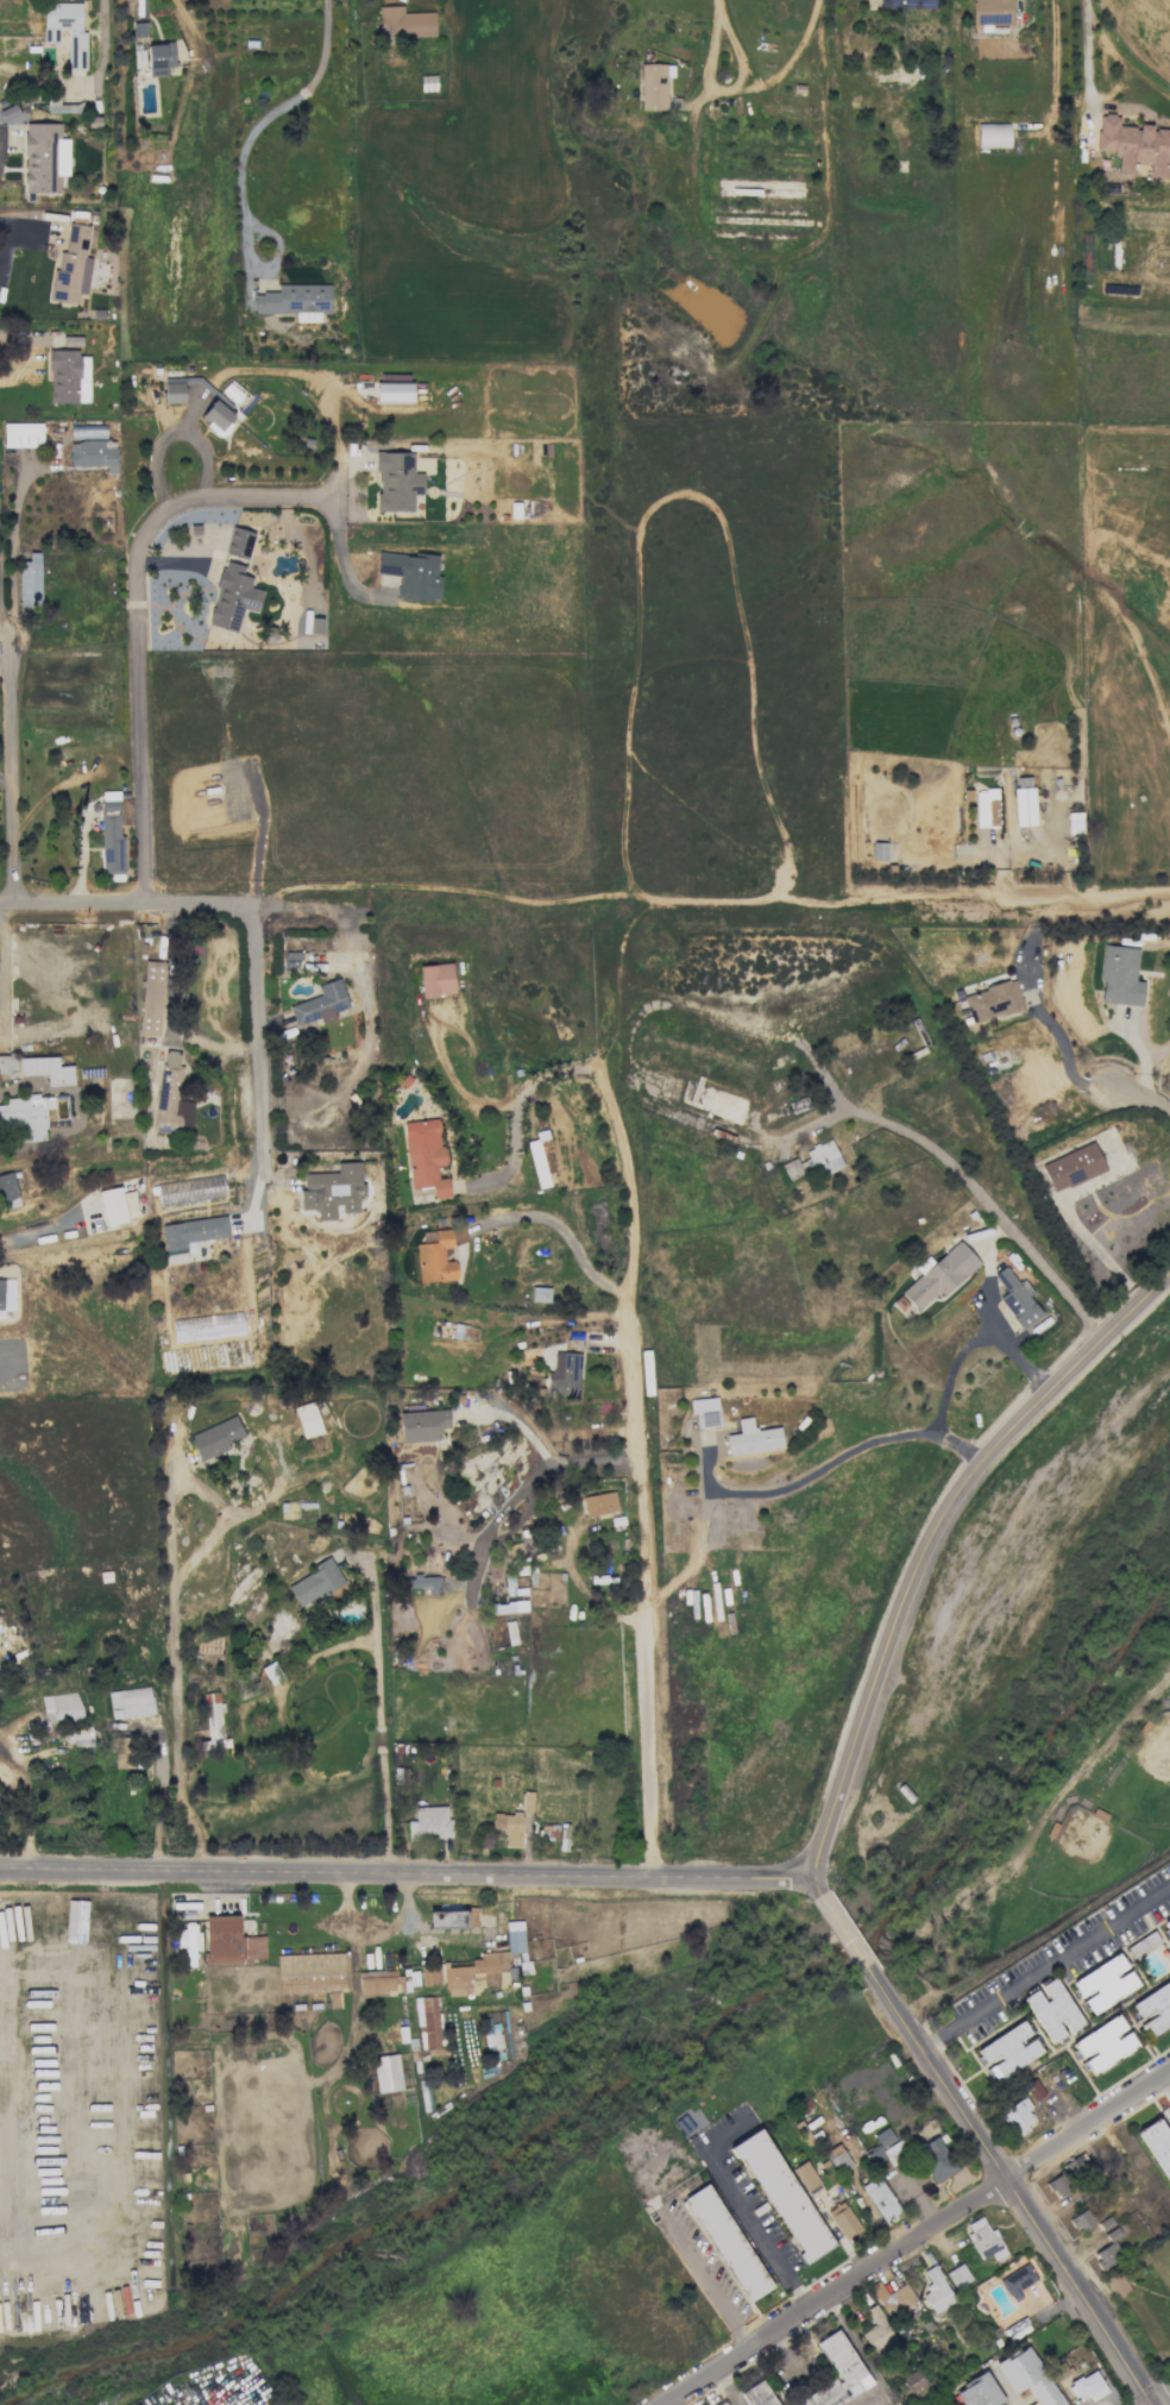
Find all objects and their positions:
building: (907, 4)
building: (990, 12)
building: (404, 23)
building: (75, 36)
road: (103, 46)
building: (159, 58)
road: (1082, 61)
building: (653, 88)
road: (262, 117)
building: (992, 134)
building: (1134, 145)
building: (43, 157)
road: (13, 225)
road: (753, 253)
building: (71, 266)
building: (295, 301)
road: (25, 338)
building: (71, 341)
building: (68, 376)
building: (174, 391)
building: (394, 391)
building: (216, 412)
building: (21, 434)
road: (170, 435)
building: (93, 454)
building: (396, 481)
road: (339, 555)
building: (411, 574)
building: (29, 580)
building: (234, 584)
road: (137, 620)
building: (314, 624)
road: (4, 635)
road: (11, 733)
building: (1024, 800)
building: (986, 808)
building: (111, 836)
road: (127, 902)
road: (633, 903)
road: (1090, 905)
building: (1120, 977)
building: (435, 979)
building: (151, 998)
building: (992, 1000)
building: (320, 1005)
road: (170, 1009)
road: (259, 1043)
building: (38, 1067)
road: (549, 1074)
road: (457, 1084)
building: (168, 1094)
road: (1143, 1099)
road: (77, 1111)
building: (24, 1116)
road: (516, 1151)
building: (424, 1156)
building: (813, 1161)
building: (1072, 1167)
building: (7, 1186)
building: (190, 1189)
building: (332, 1191)
road: (980, 1204)
building: (112, 1206)
road: (566, 1231)
road: (42, 1233)
building: (190, 1233)
building: (434, 1256)
building: (939, 1275)
building: (540, 1294)
building: (1017, 1298)
road: (975, 1337)
building: (564, 1374)
building: (705, 1411)
building: (307, 1419)
building: (422, 1425)
building: (215, 1438)
building: (753, 1438)
road: (545, 1455)
road: (828, 1464)
road: (630, 1471)
building: (599, 1503)
road: (929, 1536)
building: (315, 1582)
building: (422, 1582)
road: (365, 1594)
road: (175, 1678)
building: (130, 1702)
road: (281, 1707)
building: (61, 1708)
building: (212, 1721)
building: (78, 1737)
building: (121, 1752)
road: (377, 1756)
park: (1025, 1762)
road: (29, 1800)
building: (527, 1806)
building: (429, 1822)
building: (509, 1827)
road: (405, 1873)
road: (818, 1882)
building: (452, 1917)
building: (1166, 1924)
road: (848, 1929)
building: (188, 1941)
building: (229, 1942)
building: (516, 1942)
road: (1045, 1960)
building: (430, 1973)
building: (313, 1974)
building: (477, 1974)
building: (379, 1983)
building: (1105, 1983)
building: (1153, 2008)
building: (1052, 2009)
building: (427, 2021)
building: (1103, 2043)
building: (1008, 2051)
building: (386, 2072)
road: (1166, 2081)
building: (1033, 2090)
building: (1018, 2115)
building: (1158, 2145)
building: (886, 2148)
building: (837, 2159)
building: (933, 2159)
building: (1075, 2164)
building: (806, 2177)
road: (1012, 2184)
building: (1058, 2185)
building: (782, 2196)
building: (880, 2198)
road: (753, 2219)
building: (843, 2219)
building: (1081, 2221)
road: (917, 2240)
building: (985, 2240)
building: (726, 2242)
building: (1107, 2253)
road: (699, 2274)
building: (957, 2275)
building: (1017, 2279)
building: (1116, 2285)
building: (936, 2290)
building: (893, 2299)
building: (882, 2341)
road: (863, 2355)
building: (1059, 2369)
building: (837, 2374)
building: (1029, 2378)
building: (913, 2380)
road: (734, 2386)
building: (1087, 2386)
building: (979, 2392)
building: (757, 2394)
road: (1164, 2400)

